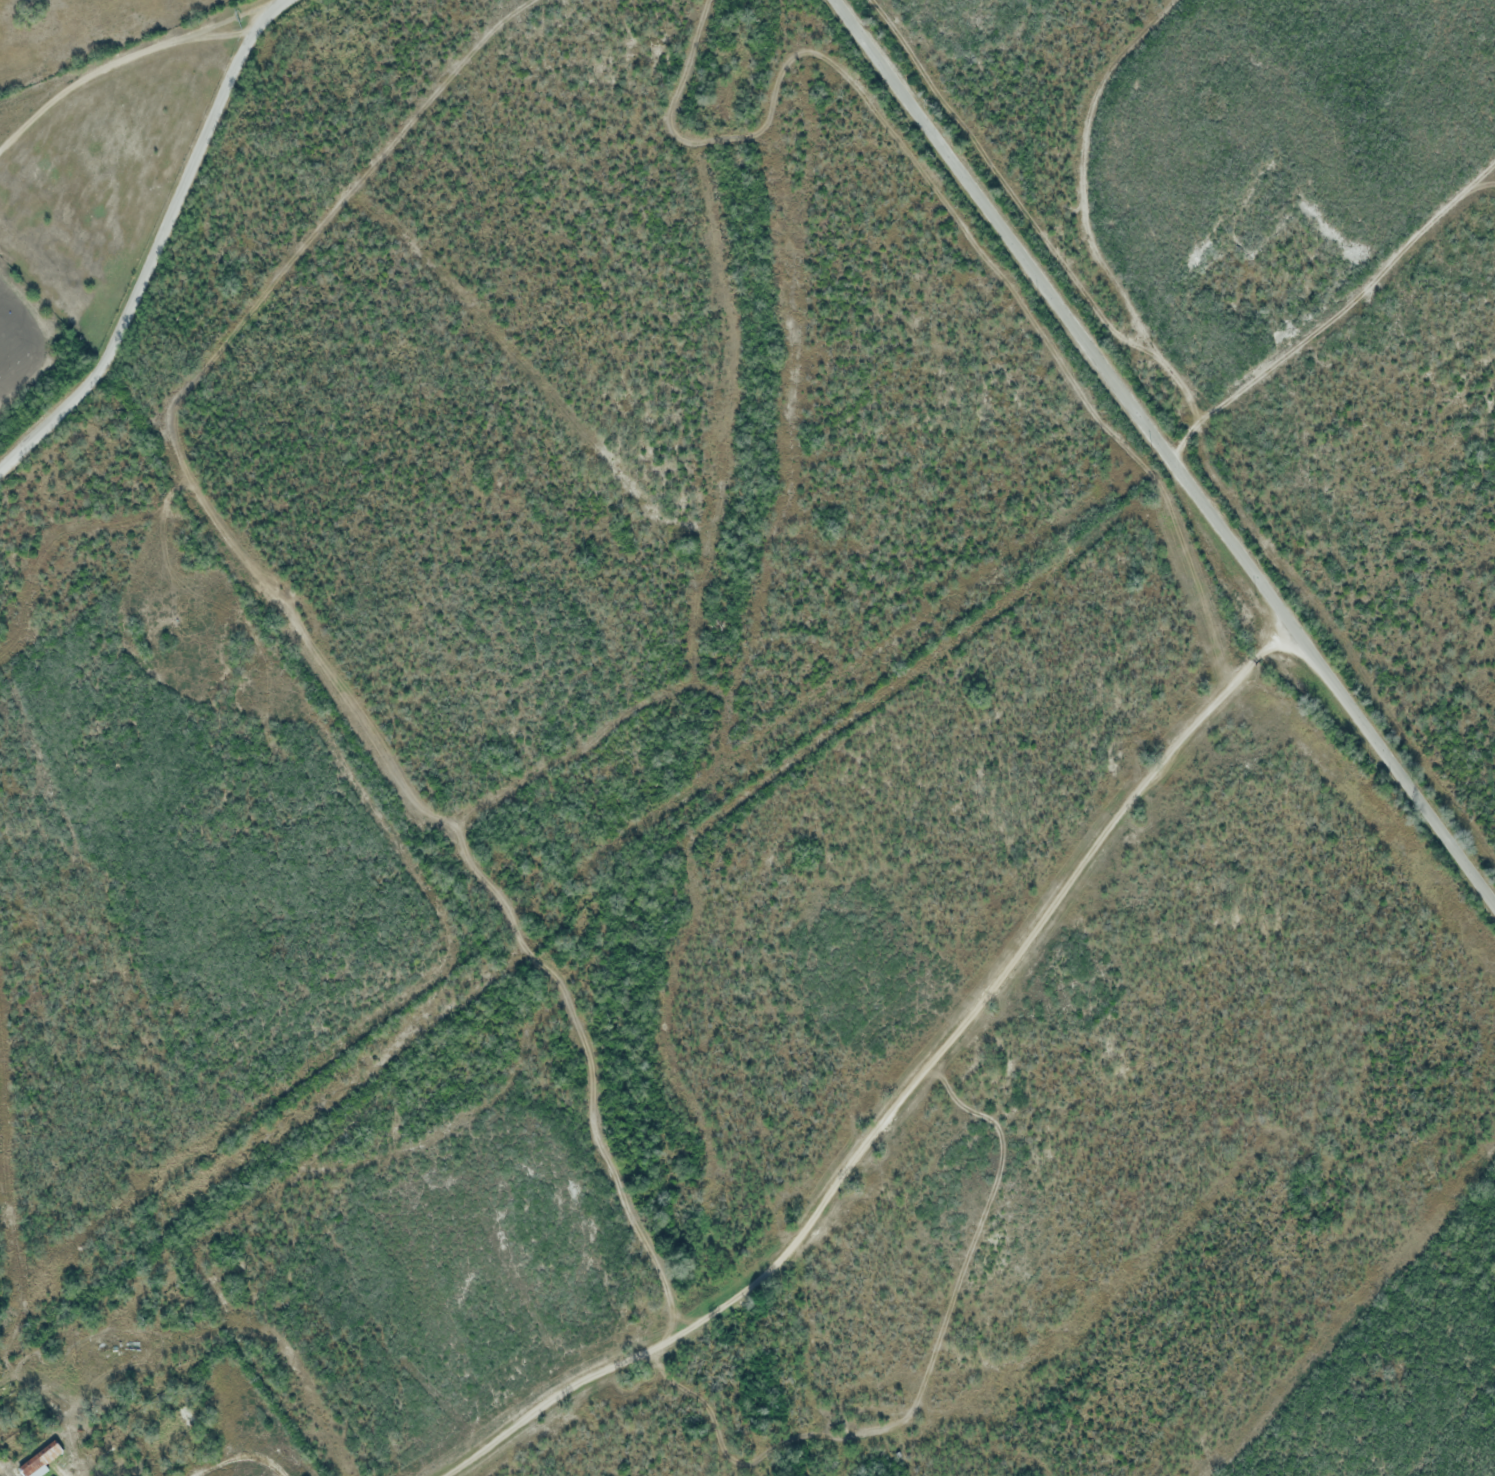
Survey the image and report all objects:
road: (161, 247)
road: (1331, 306)
road: (1163, 452)
road: (900, 1114)
building: (180, 1426)
building: (107, 1452)
building: (42, 1459)
building: (73, 1463)

